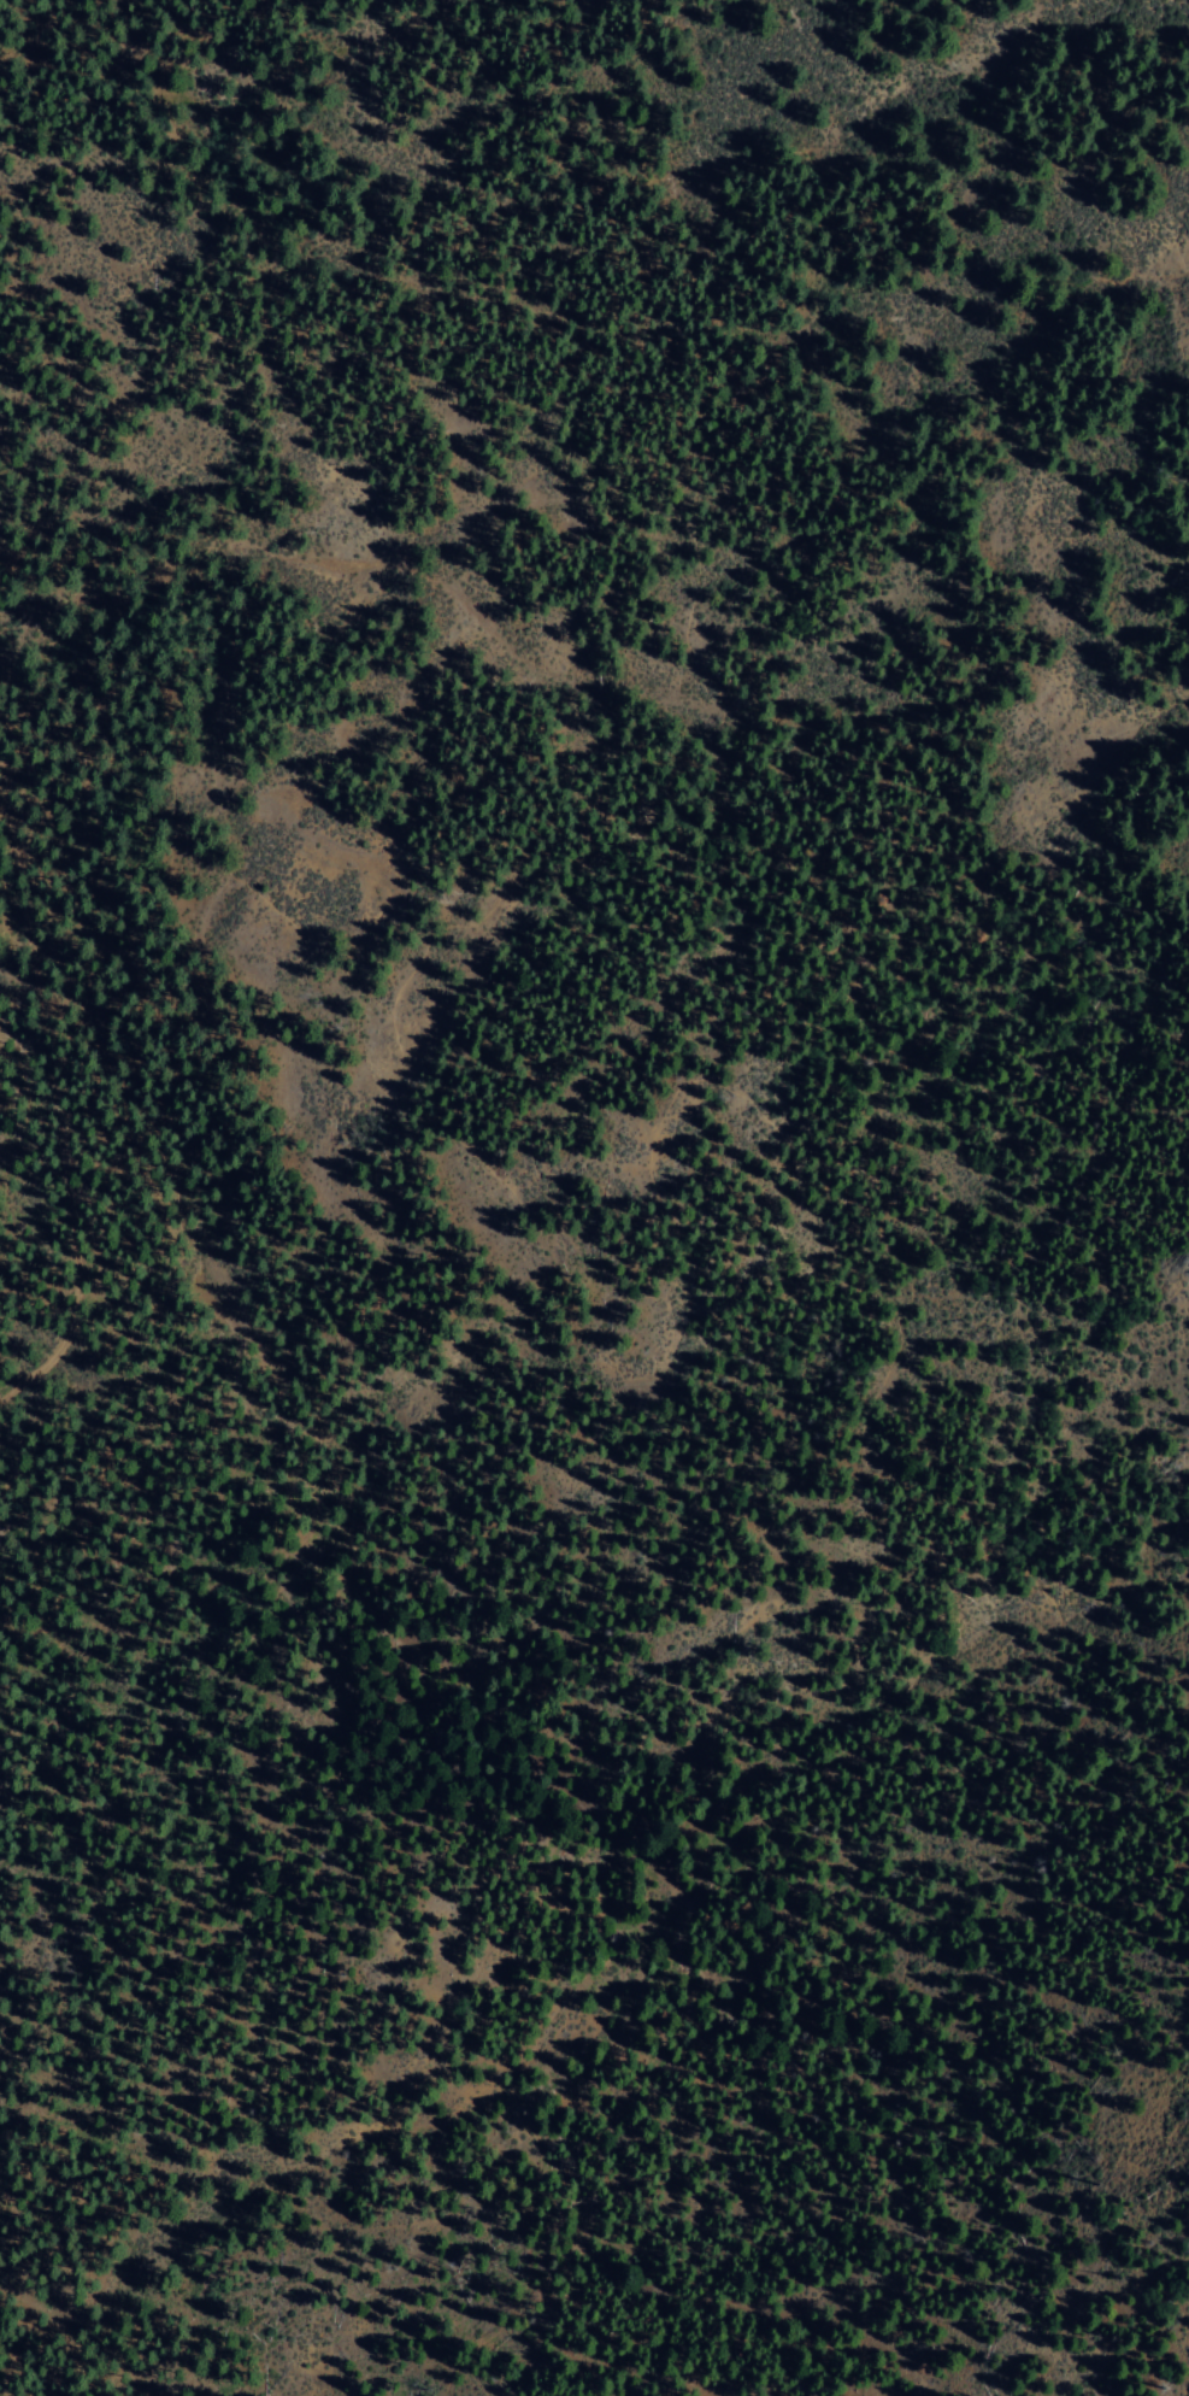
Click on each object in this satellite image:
road: (43, 933)

